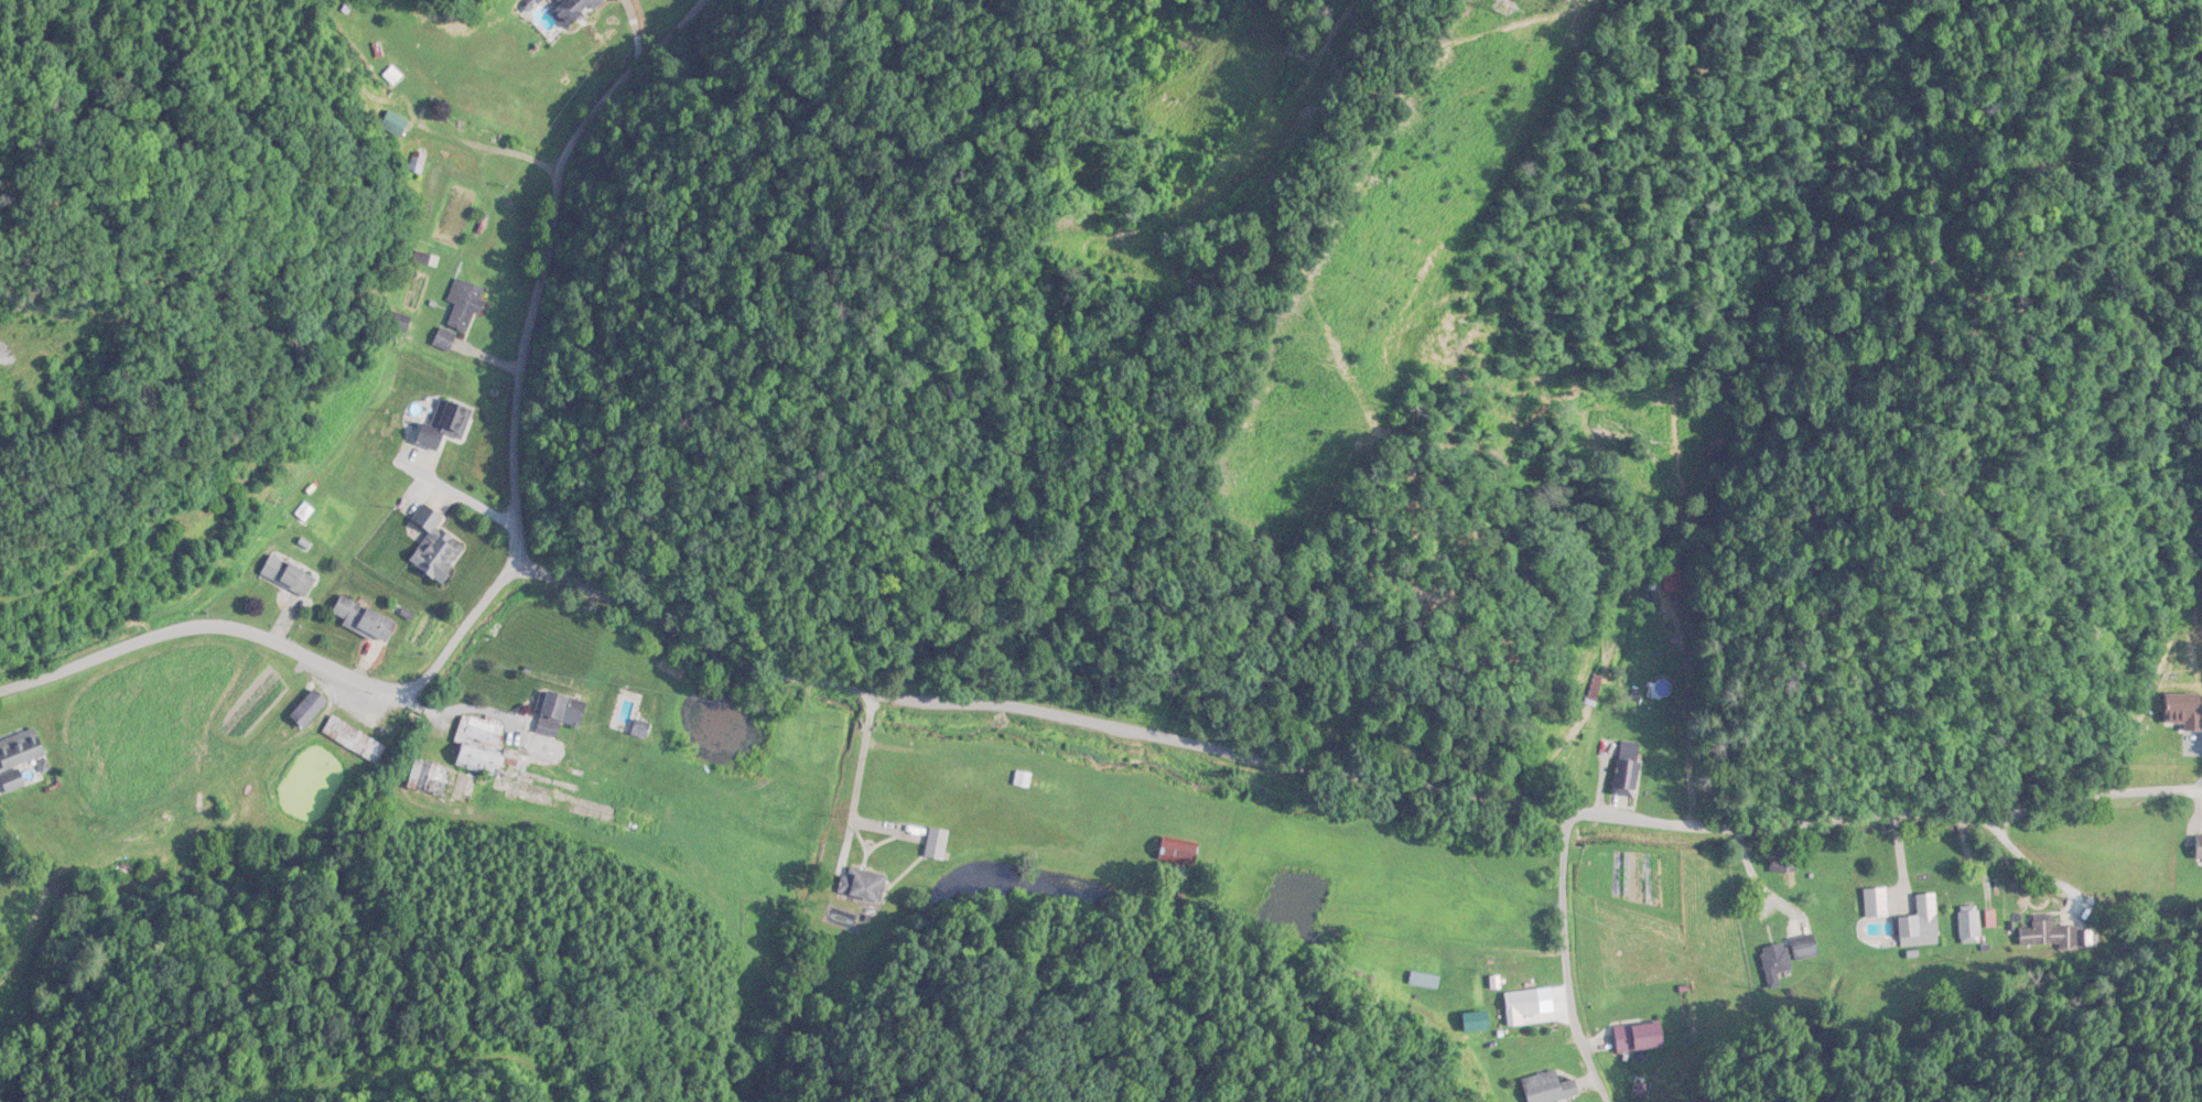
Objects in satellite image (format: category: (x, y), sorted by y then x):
power tower: (1507, 4)
building: (574, 10)
road: (542, 253)
building: (465, 306)
building: (439, 423)
building: (434, 547)
building: (292, 579)
building: (361, 620)
road: (283, 651)
building: (307, 710)
building: (552, 726)
building: (640, 730)
building: (353, 741)
building: (481, 746)
building: (18, 756)
building: (1624, 770)
road: (1340, 778)
building: (1022, 779)
building: (937, 843)
building: (2199, 844)
road: (2023, 857)
building: (860, 884)
building: (1875, 901)
building: (1919, 922)
building: (1968, 926)
building: (1785, 955)
road: (1551, 959)
building: (1520, 1006)
building: (1638, 1037)

